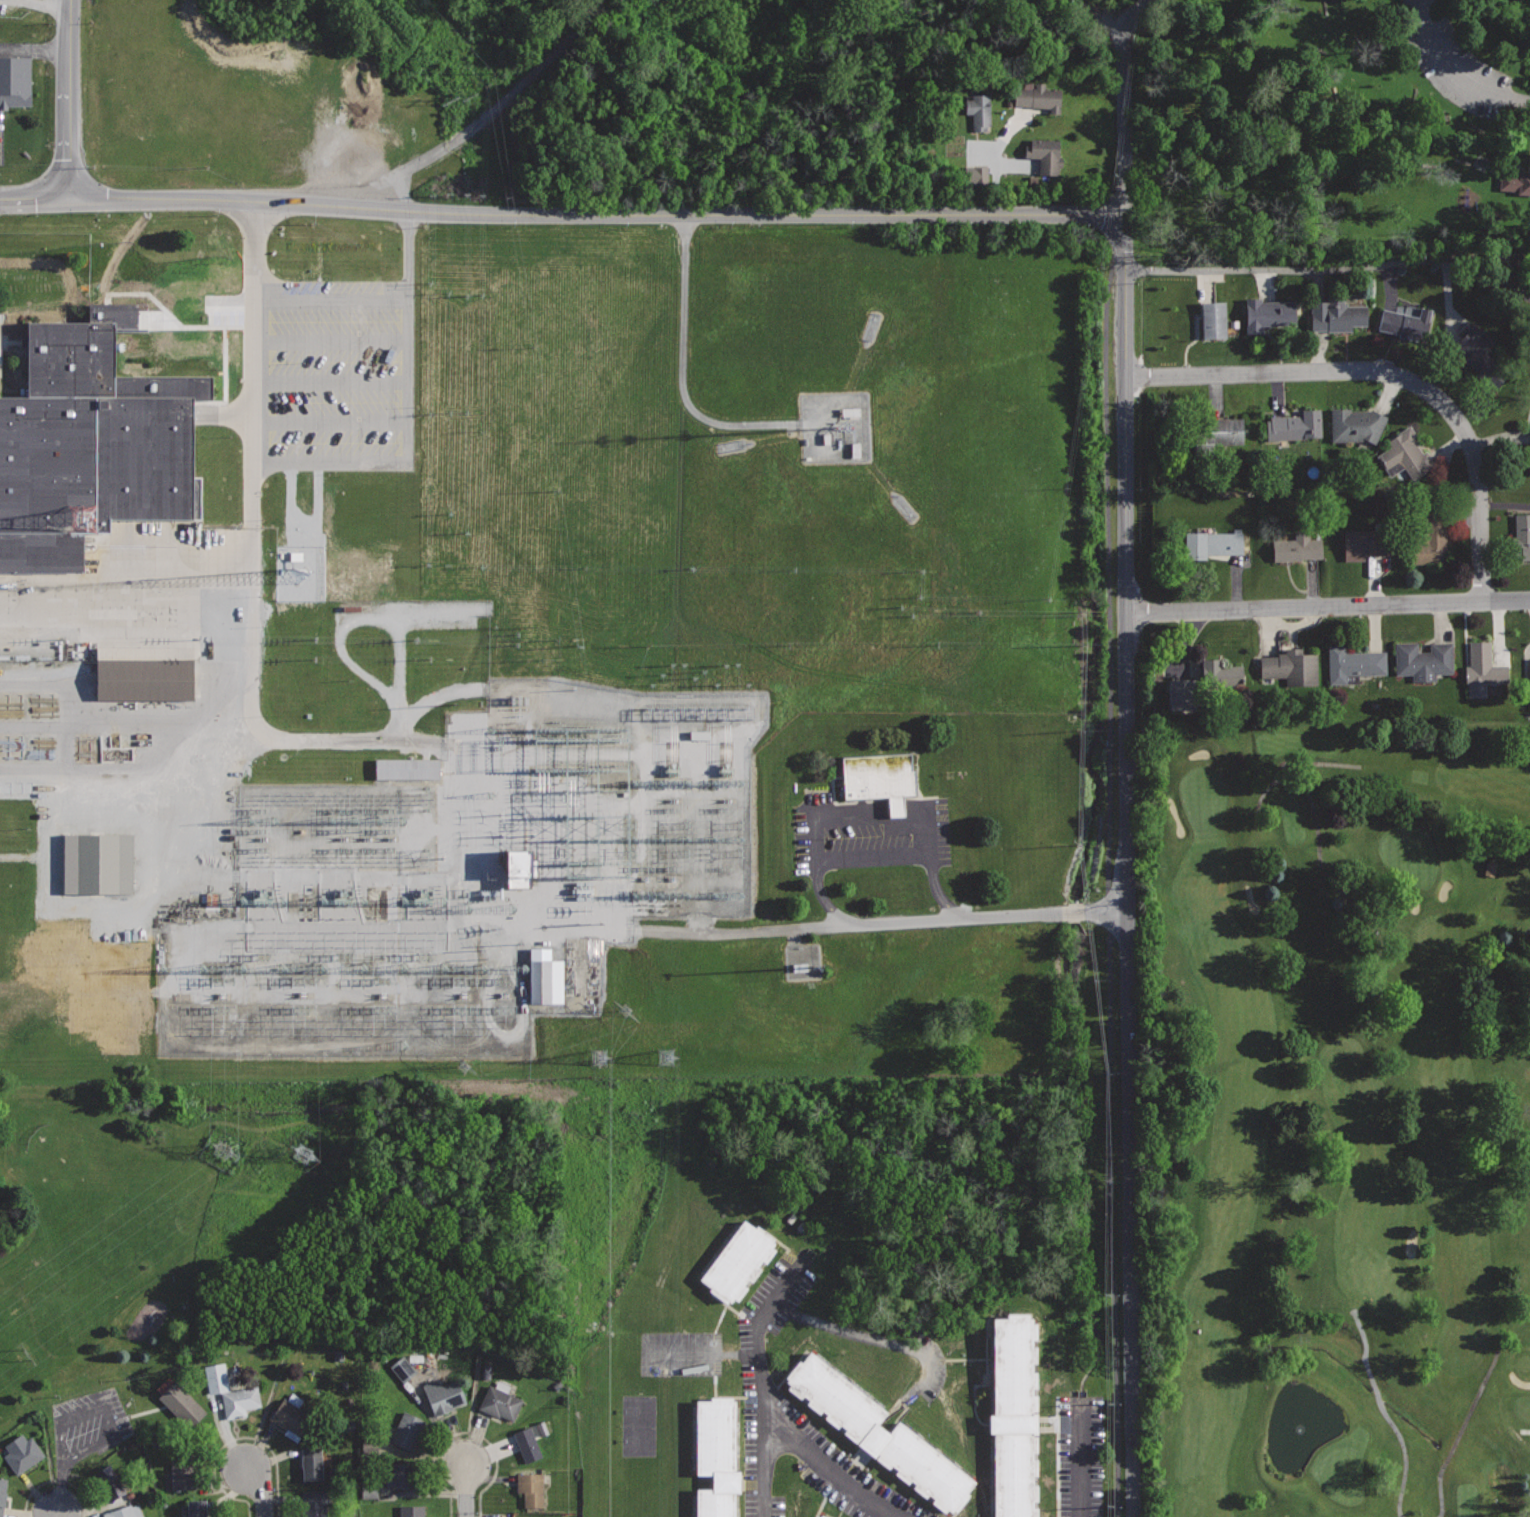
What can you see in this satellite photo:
road: (1418, 0)
road: (45, 5)
road: (1101, 16)
road: (36, 51)
parking lot: (1454, 60)
road: (1459, 70)
parking lot: (20, 71)
building: (15, 81)
building: (1038, 98)
road: (72, 99)
road: (1124, 101)
building: (980, 110)
road: (492, 112)
park: (1325, 132)
building: (1044, 153)
building: (973, 175)
building: (1516, 182)
road: (563, 215)
road: (1300, 270)
road: (72, 291)
building: (312, 312)
parking lot: (28, 313)
building: (1268, 313)
building: (1337, 313)
road: (159, 316)
building: (1214, 319)
building: (1406, 323)
building: (1475, 347)
road: (330, 352)
road: (681, 368)
road: (1392, 376)
road: (330, 380)
building: (848, 412)
road: (406, 413)
road: (223, 417)
road: (330, 420)
building: (1357, 424)
building: (1295, 425)
parking lot: (324, 434)
building: (1217, 436)
building: (1529, 440)
building: (92, 443)
building: (1405, 453)
building: (1434, 536)
building: (1522, 538)
building: (1213, 543)
building: (1365, 543)
building: (1298, 548)
road: (253, 560)
road: (126, 598)
road: (1328, 606)
road: (373, 615)
building: (1423, 660)
building: (1353, 664)
building: (1291, 666)
building: (1483, 668)
building: (141, 673)
building: (1220, 674)
building: (1529, 680)
road: (47, 686)
road: (437, 695)
building: (1177, 695)
parking lot: (95, 721)
road: (133, 721)
road: (64, 726)
building: (697, 735)
road: (1319, 760)
road: (118, 768)
building: (404, 769)
building: (877, 779)
road: (117, 805)
road: (1314, 810)
road: (849, 816)
road: (186, 833)
parking lot: (146, 835)
road: (53, 839)
parking lot: (869, 841)
road: (870, 854)
road: (17, 857)
road: (928, 859)
building: (94, 863)
road: (1128, 866)
building: (513, 869)
building: (1489, 869)
road: (814, 877)
power substation: (468, 878)
road: (1108, 879)
building: (209, 900)
road: (1095, 911)
road: (800, 928)
building: (802, 962)
building: (543, 978)
power tower: (623, 1010)
power tower: (666, 1051)
power tower: (600, 1058)
power tower: (468, 1068)
park: (1329, 1112)
power tower: (221, 1149)
power tower: (305, 1156)
park: (63, 1159)
building: (738, 1262)
park: (106, 1267)
parking lot: (777, 1298)
road: (886, 1342)
power tower: (25, 1353)
building: (1012, 1364)
building: (443, 1394)
building: (836, 1396)
building: (499, 1399)
building: (241, 1400)
building: (179, 1401)
road: (1384, 1410)
road: (770, 1412)
building: (292, 1415)
parking lot: (89, 1424)
building: (408, 1430)
road: (1459, 1432)
road: (464, 1433)
building: (716, 1435)
road: (234, 1438)
building: (528, 1444)
parking lot: (757, 1449)
building: (23, 1452)
parking lot: (1081, 1457)
road: (1081, 1459)
building: (311, 1463)
building: (927, 1467)
parking lot: (840, 1471)
road: (768, 1472)
building: (184, 1473)
building: (403, 1476)
building: (1014, 1476)
road: (57, 1480)
building: (109, 1482)
building: (530, 1488)
road: (262, 1490)
building: (367, 1490)
road: (466, 1490)
building: (2, 1494)
building: (314, 1503)
building: (717, 1503)
building: (197, 1508)
building: (125, 1510)
building: (412, 1511)
road: (58, 1514)
building: (818, 1515)
building: (811, 1516)

